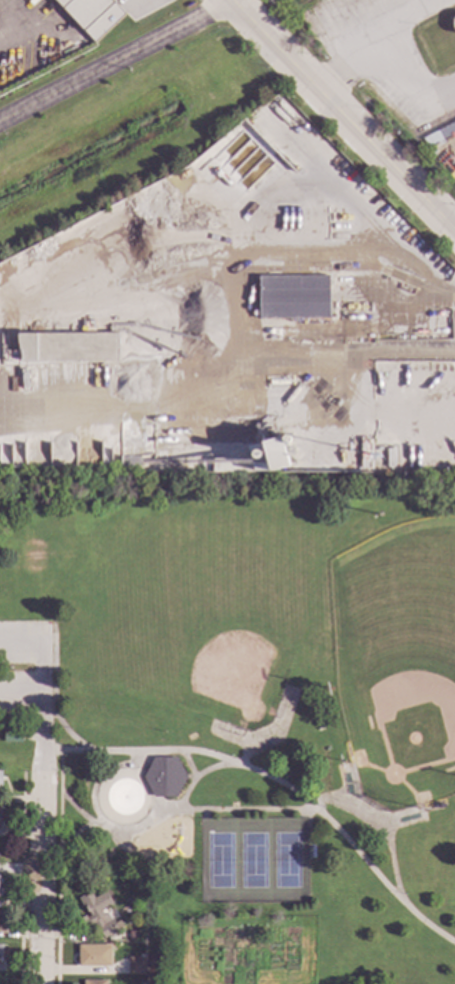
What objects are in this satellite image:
road: (232, 0)
building: (92, 16)
road: (393, 20)
road: (116, 62)
road: (386, 65)
road: (344, 114)
building: (439, 132)
building: (431, 150)
building: (294, 298)
building: (64, 347)
road: (305, 350)
building: (276, 454)
building: (130, 461)
park: (198, 607)
park: (397, 661)
parking lot: (27, 666)
road: (37, 668)
road: (19, 687)
park: (247, 710)
road: (62, 728)
building: (12, 737)
road: (187, 766)
road: (215, 766)
road: (96, 777)
building: (0, 778)
building: (164, 778)
road: (277, 780)
road: (184, 794)
building: (441, 806)
road: (309, 808)
road: (351, 810)
road: (173, 811)
building: (1, 818)
road: (73, 833)
road: (38, 857)
park: (251, 859)
road: (56, 867)
road: (392, 867)
road: (21, 878)
building: (138, 880)
building: (0, 881)
building: (96, 915)
building: (0, 921)
building: (118, 925)
building: (126, 925)
building: (135, 935)
building: (0, 950)
building: (93, 956)
building: (136, 966)
building: (94, 982)

